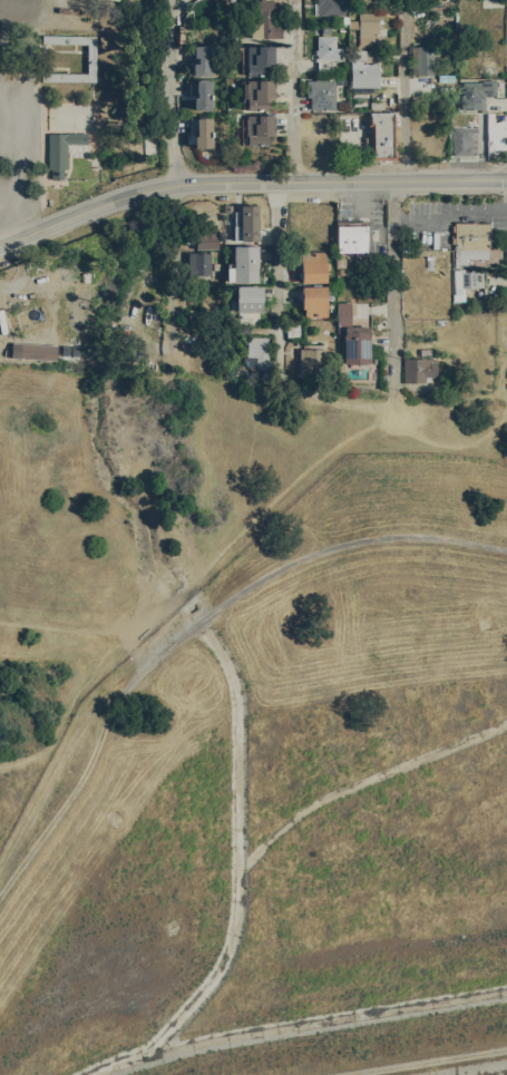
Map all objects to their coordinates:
building: (372, 0)
building: (330, 7)
building: (471, 16)
building: (266, 21)
building: (368, 27)
building: (326, 47)
building: (362, 53)
building: (91, 57)
building: (259, 58)
building: (202, 59)
building: (422, 59)
building: (470, 67)
building: (363, 74)
building: (201, 92)
building: (259, 92)
building: (321, 92)
building: (477, 92)
building: (259, 127)
building: (497, 130)
building: (201, 131)
building: (382, 135)
building: (464, 138)
building: (62, 149)
road: (504, 164)
road: (174, 172)
road: (247, 183)
road: (287, 187)
road: (503, 192)
road: (362, 197)
road: (397, 197)
road: (419, 215)
parking lot: (365, 216)
parking lot: (449, 218)
building: (247, 223)
road: (2, 235)
building: (352, 235)
building: (207, 240)
building: (471, 240)
building: (433, 262)
building: (198, 263)
building: (244, 264)
building: (313, 266)
building: (468, 278)
building: (247, 297)
building: (314, 300)
building: (343, 313)
building: (294, 328)
building: (355, 344)
building: (36, 350)
building: (257, 350)
building: (70, 352)
building: (311, 359)
building: (419, 369)
road: (394, 409)
road: (195, 629)
road: (427, 1062)

